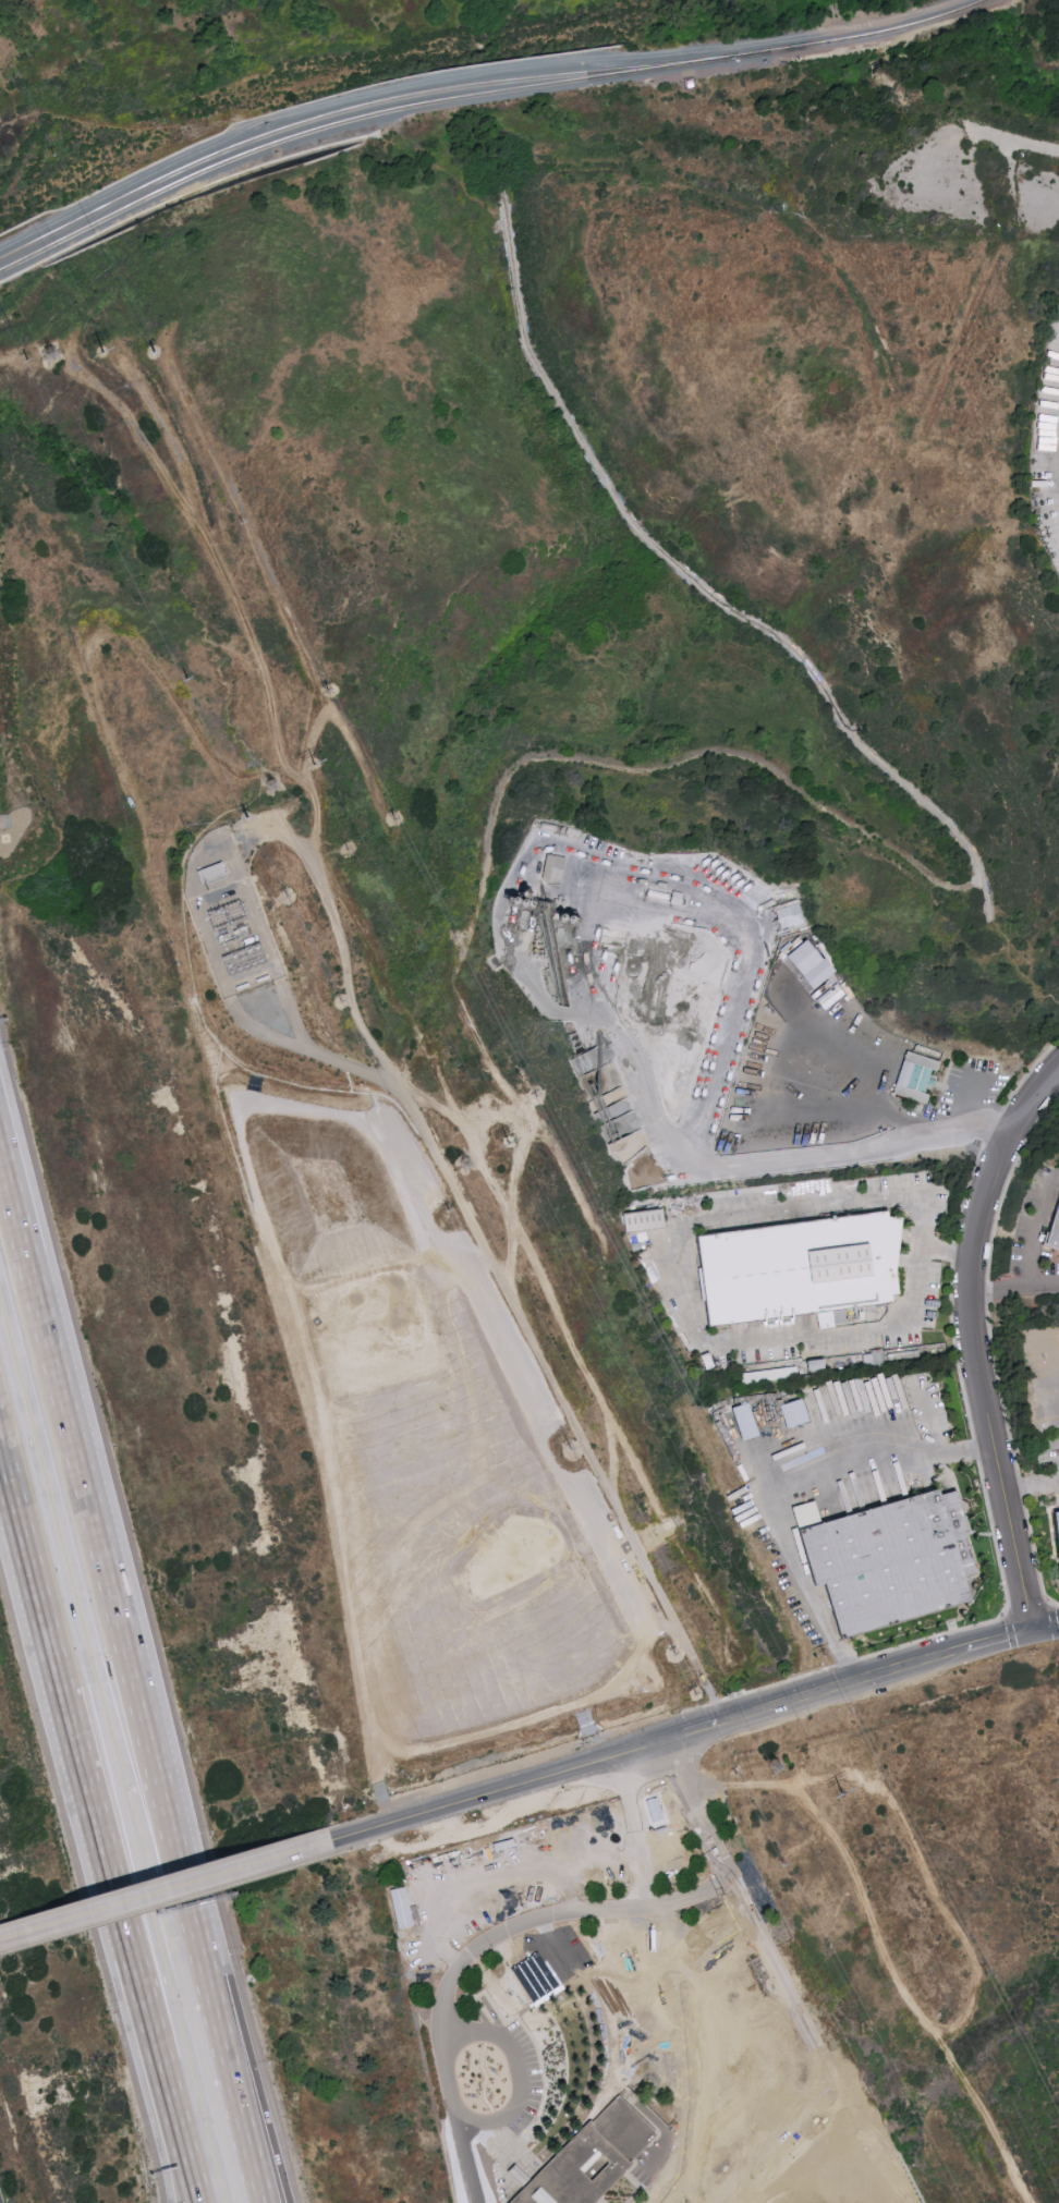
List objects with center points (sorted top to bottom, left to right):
railway: (862, 35)
road: (114, 45)
railway: (595, 72)
railway: (596, 77)
road: (207, 131)
railway: (219, 151)
railway: (220, 163)
power tower: (57, 354)
power tower: (105, 354)
power tower: (318, 766)
power tower: (277, 788)
building: (555, 865)
road: (647, 874)
building: (791, 914)
power substation: (235, 939)
building: (817, 960)
building: (828, 1003)
building: (911, 1075)
road: (967, 1099)
power tower: (510, 1145)
road: (691, 1157)
power tower: (471, 1166)
road: (923, 1217)
building: (642, 1219)
building: (1052, 1220)
road: (1031, 1230)
road: (950, 1253)
road: (678, 1263)
building: (805, 1263)
road: (1017, 1287)
road: (911, 1292)
road: (975, 1341)
building: (771, 1374)
building: (788, 1412)
building: (739, 1420)
road: (917, 1443)
road: (1033, 1485)
road: (85, 1492)
road: (782, 1525)
building: (1056, 1530)
building: (898, 1557)
road: (1045, 1626)
road: (842, 1662)
road: (99, 1663)
road: (844, 1682)
road: (63, 1702)
road: (102, 1716)
power tower: (777, 1766)
road: (495, 1790)
power tower: (843, 1793)
road: (686, 1794)
road: (176, 1857)
road: (166, 1888)
road: (186, 1897)
road: (208, 1981)
road: (443, 1998)
road: (138, 2005)
road: (805, 2037)
road: (249, 2055)
road: (245, 2125)
road: (161, 2127)
road: (169, 2127)
road: (465, 2158)
building: (586, 2161)
parking lot: (0, 2200)

